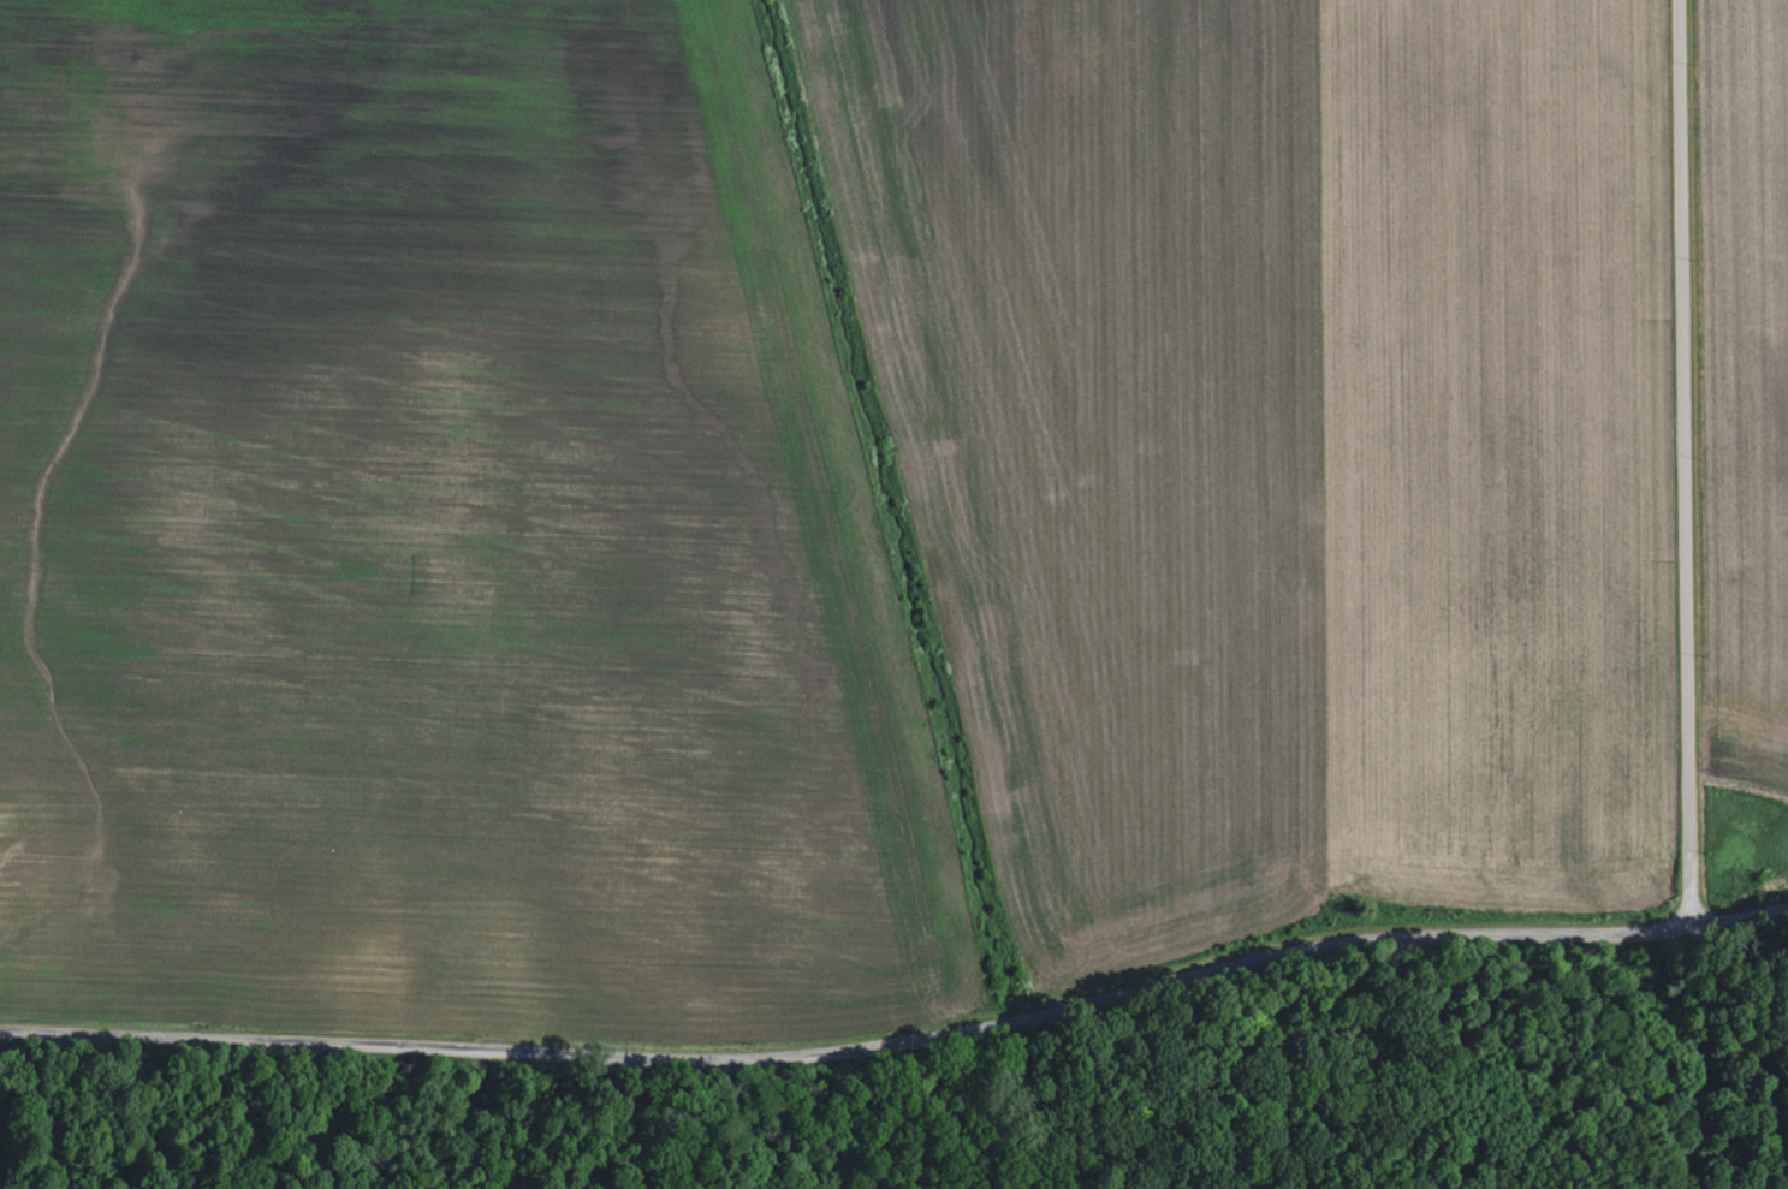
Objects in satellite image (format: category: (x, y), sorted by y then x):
road: (1683, 463)
road: (1737, 911)
road: (849, 1048)

